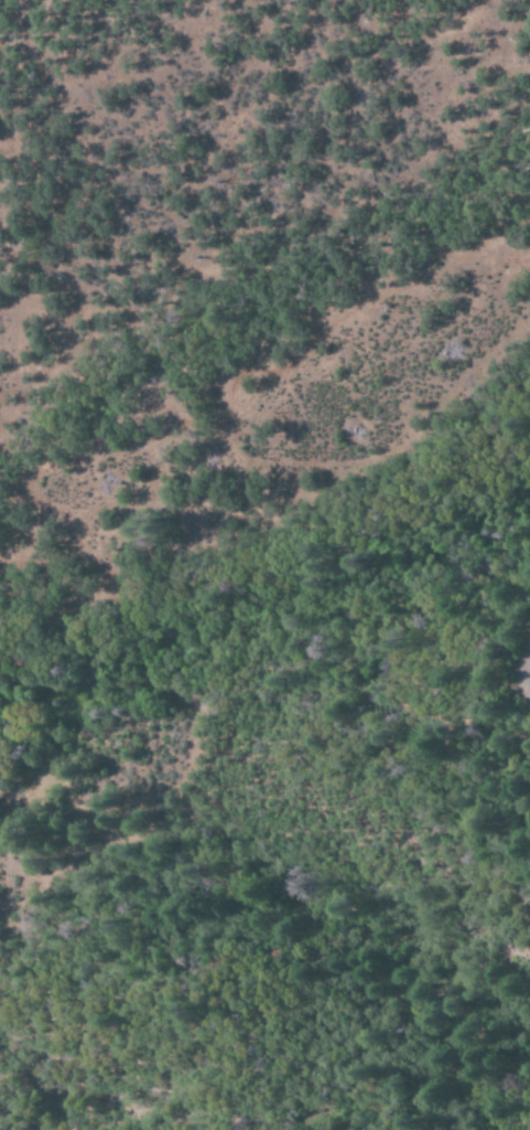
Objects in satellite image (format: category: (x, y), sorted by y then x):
road: (529, 654)

